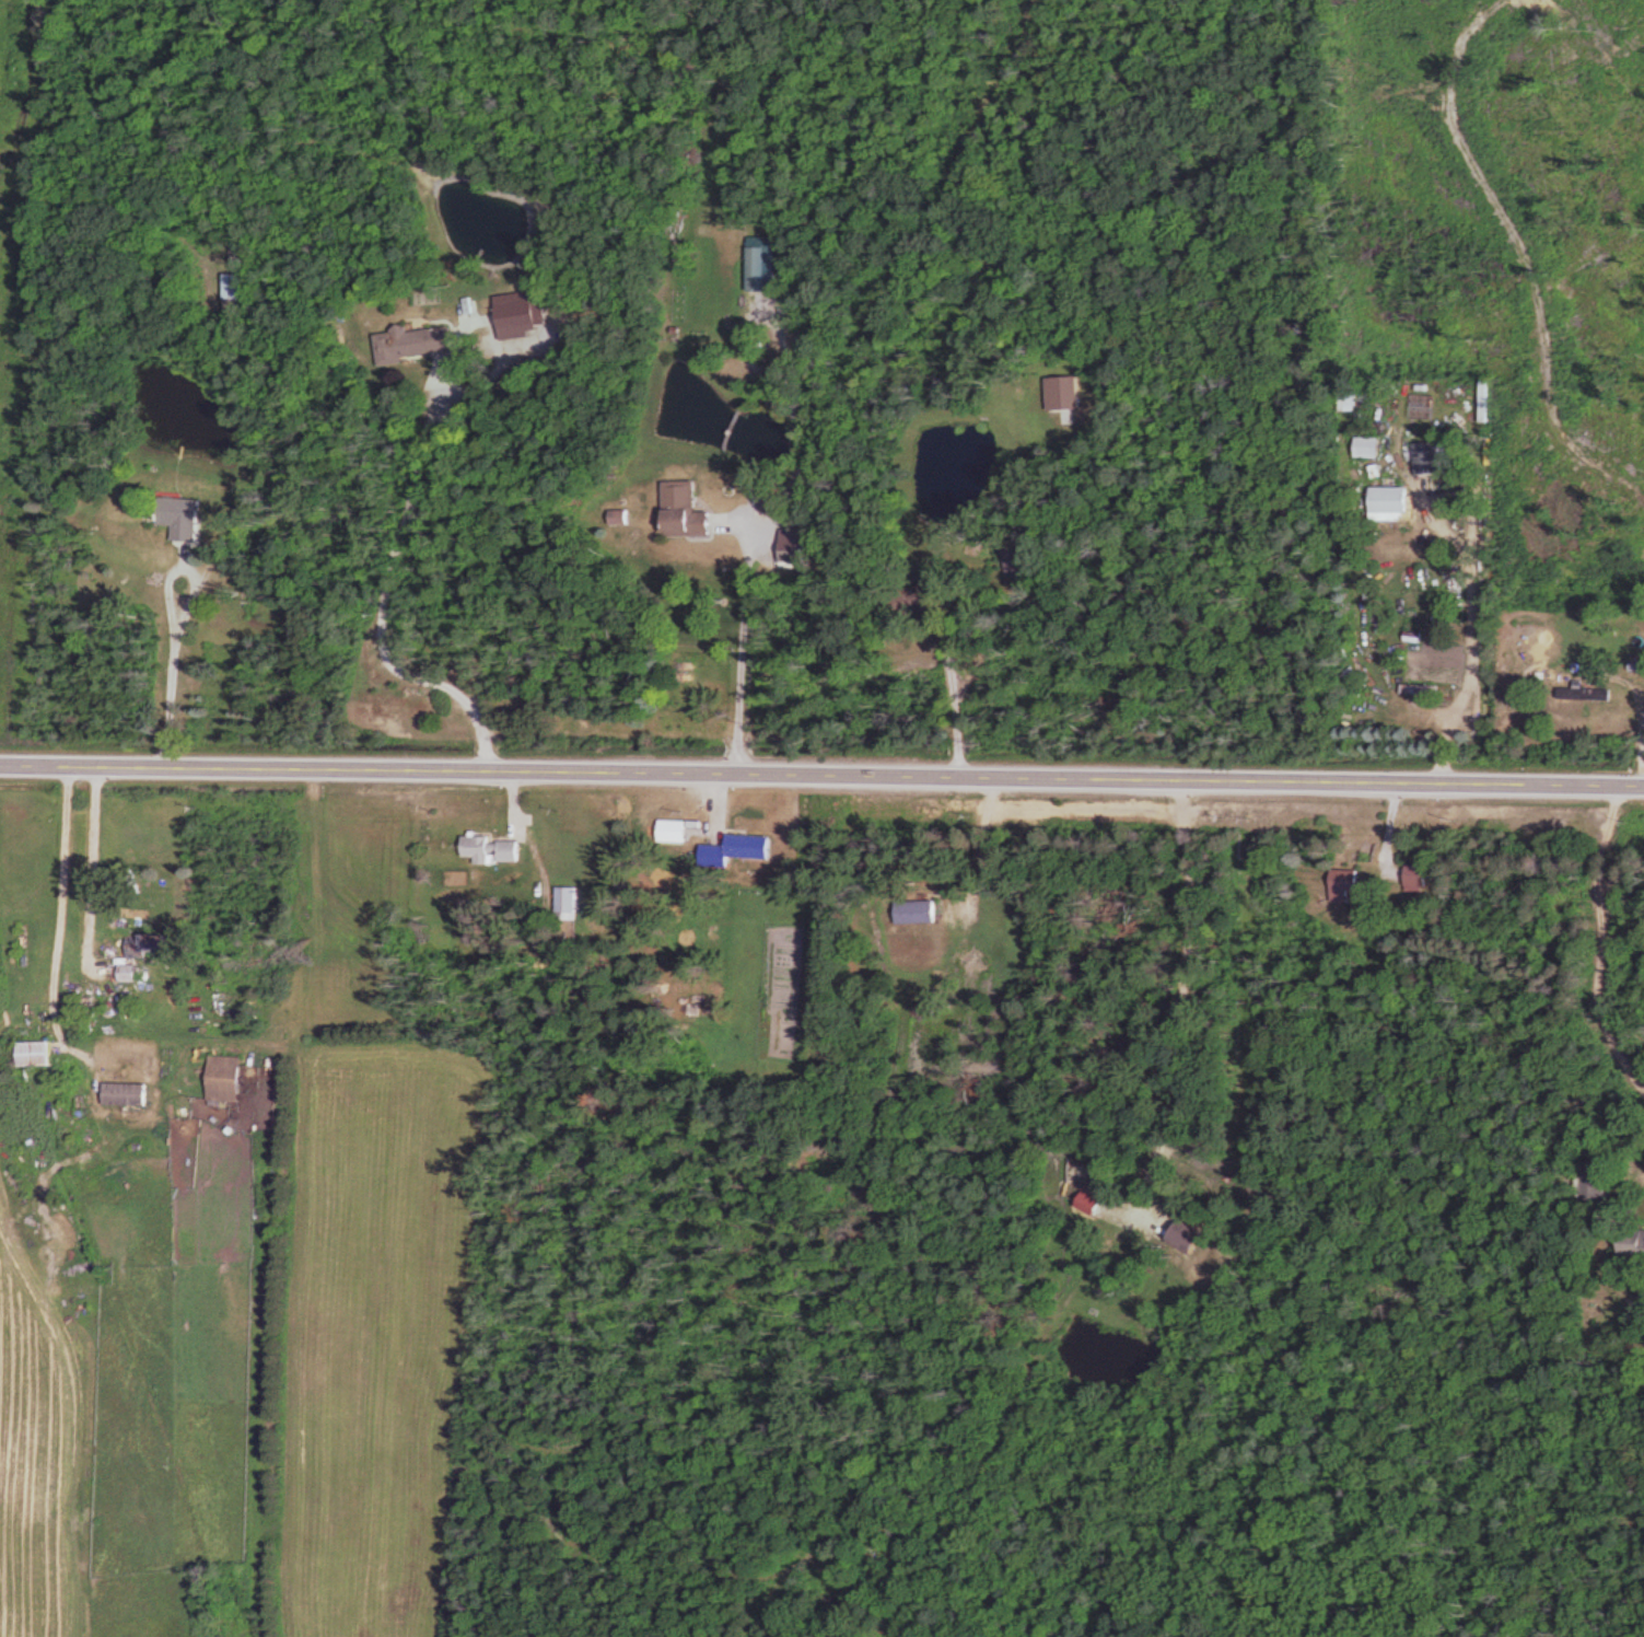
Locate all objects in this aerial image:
building: (766, 264)
building: (238, 288)
building: (521, 313)
building: (420, 341)
building: (1065, 393)
building: (1372, 444)
building: (1435, 458)
building: (689, 513)
building: (187, 519)
building: (796, 547)
building: (1016, 560)
road: (734, 642)
building: (1420, 690)
building: (1588, 694)
road: (946, 695)
road: (821, 775)
building: (673, 831)
building: (737, 849)
building: (493, 850)
building: (1421, 876)
building: (1349, 880)
building: (567, 899)
building: (917, 912)
building: (152, 947)
road: (1584, 955)
building: (128, 974)
building: (37, 1055)
building: (225, 1079)
building: (128, 1095)
building: (1094, 1204)
building: (1189, 1234)
building: (1637, 1235)

